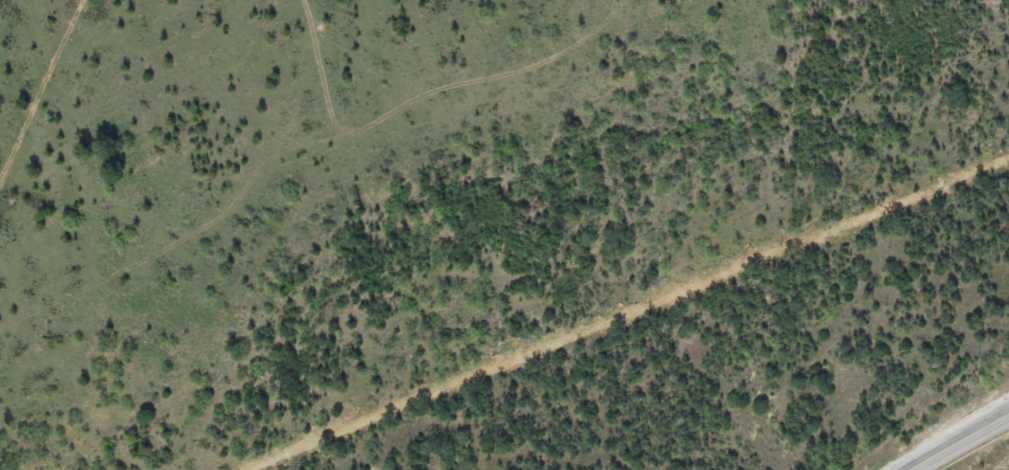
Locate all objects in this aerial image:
road: (959, 441)

